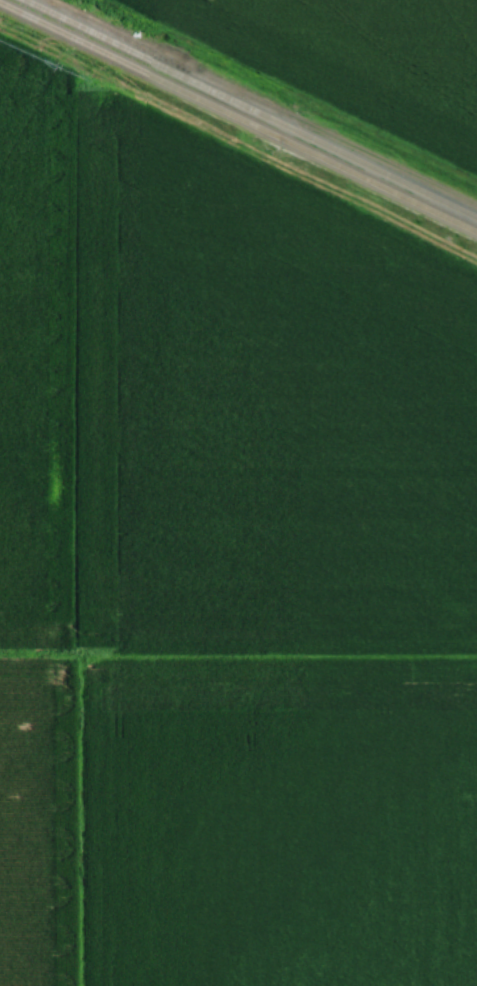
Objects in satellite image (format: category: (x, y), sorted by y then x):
railway: (257, 104)
railway: (238, 118)
crop: (25, 354)
crop: (248, 414)

